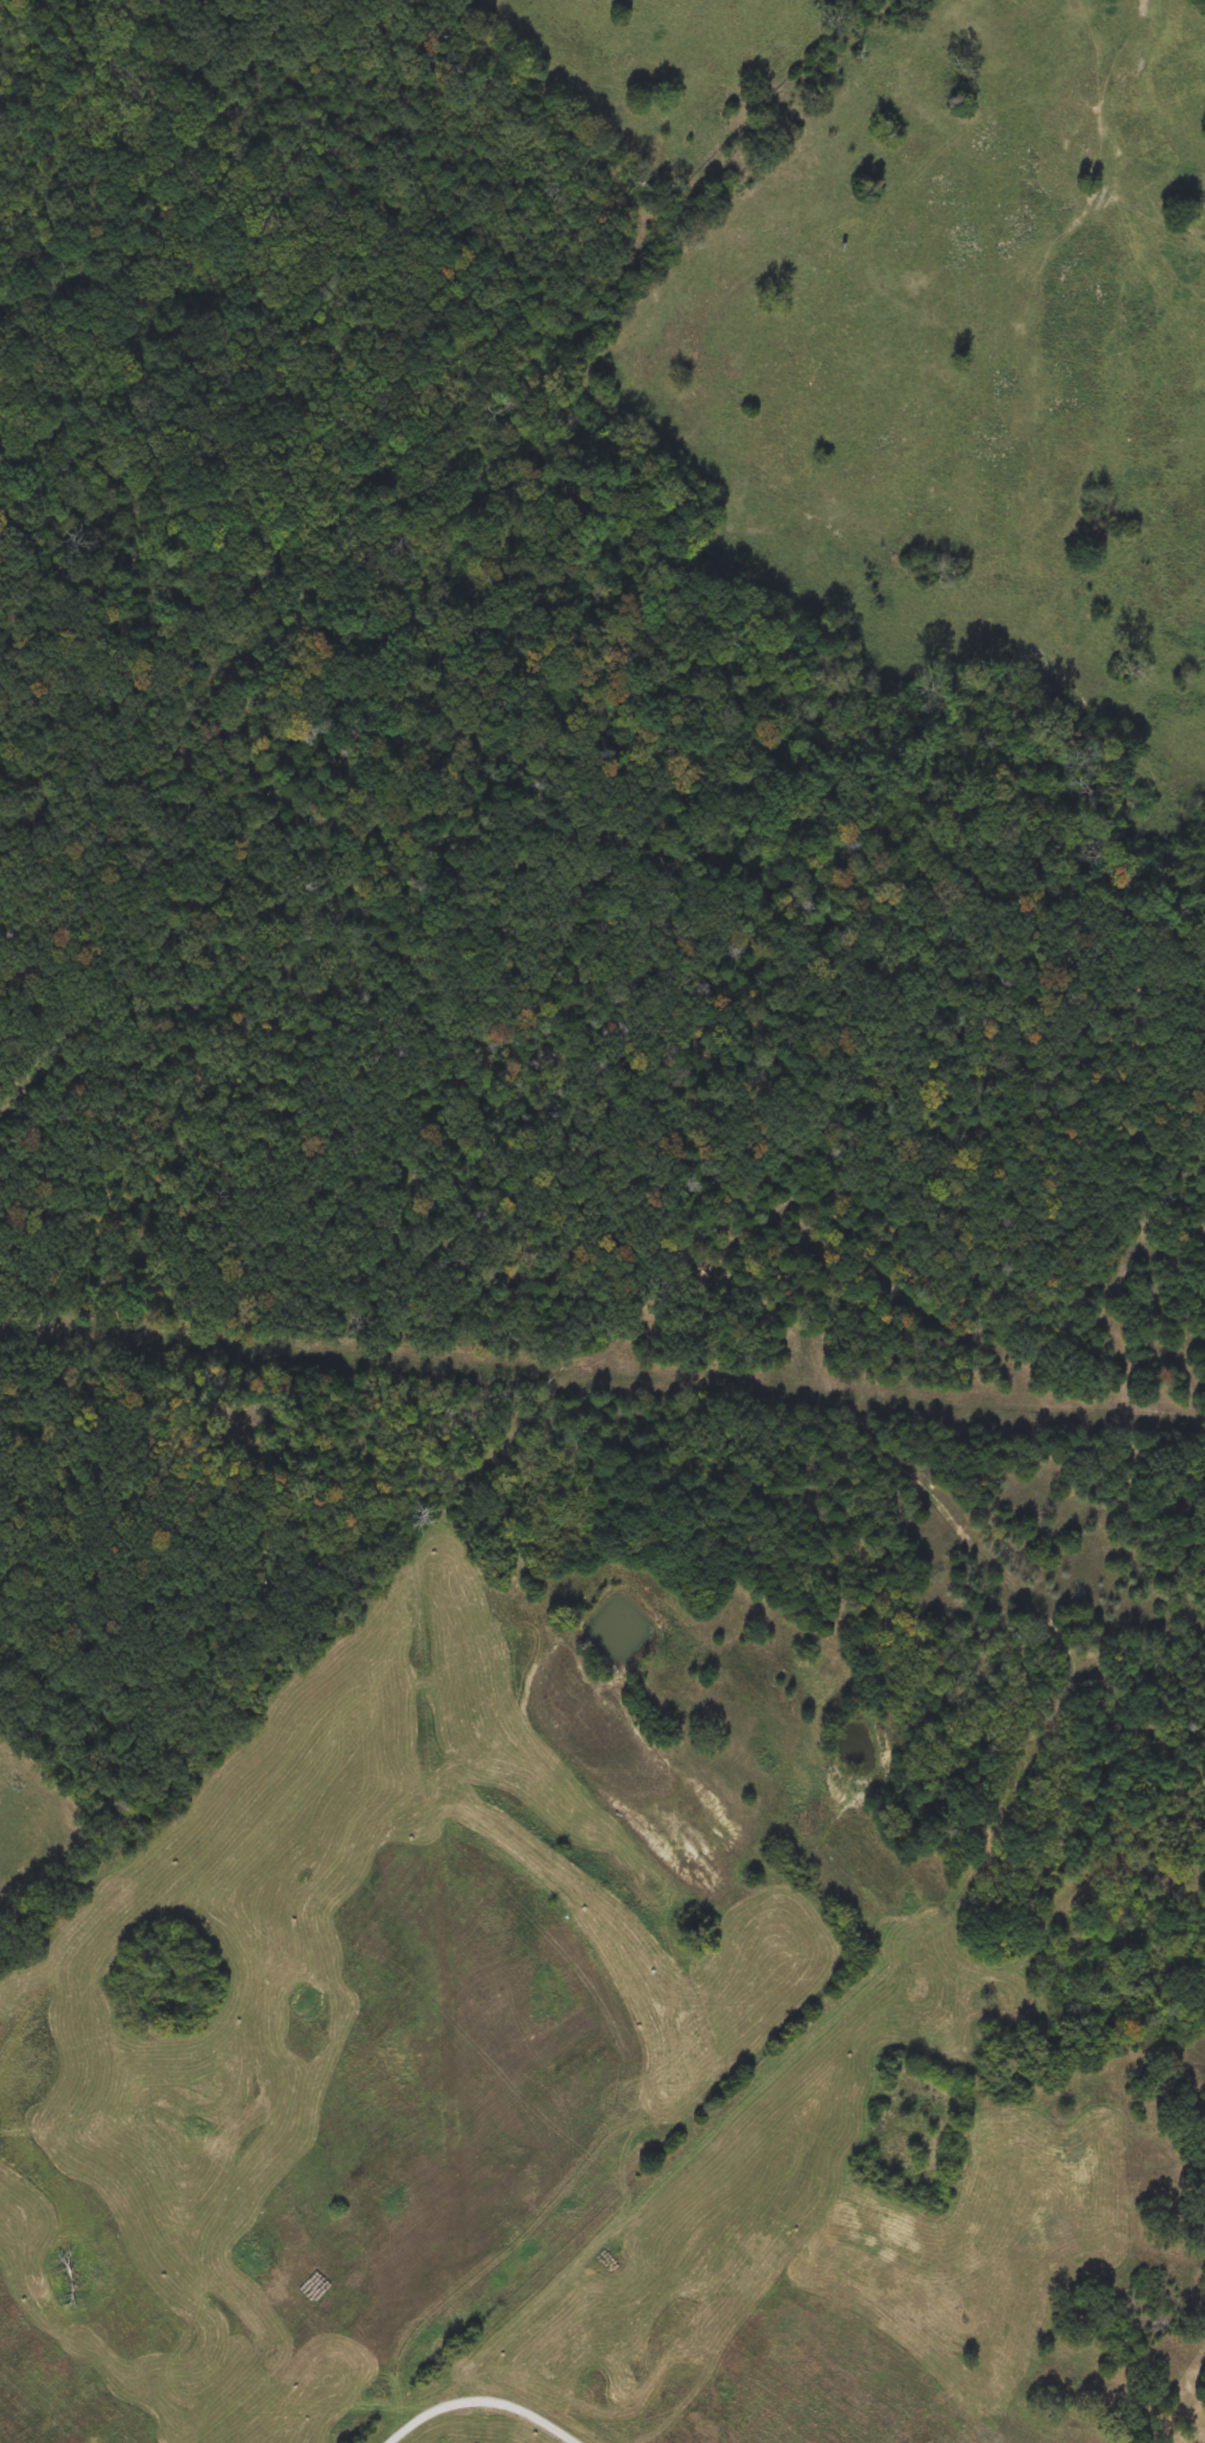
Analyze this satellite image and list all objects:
road: (1089, 10)
road: (485, 2396)

